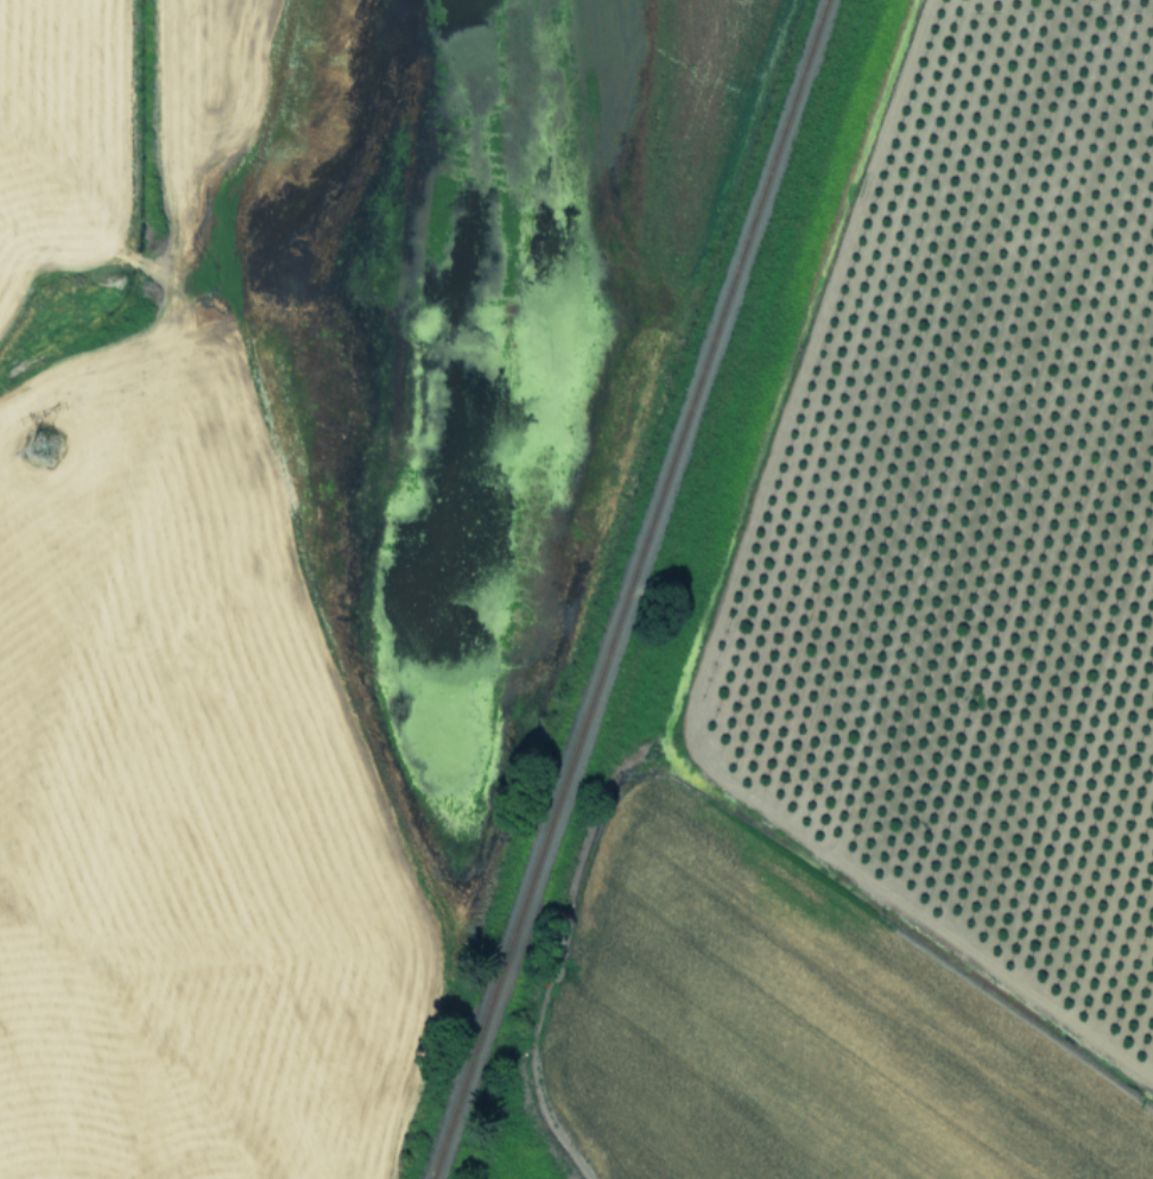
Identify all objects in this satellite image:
power tower: (50, 451)
crop: (576, 589)
railway: (632, 589)

